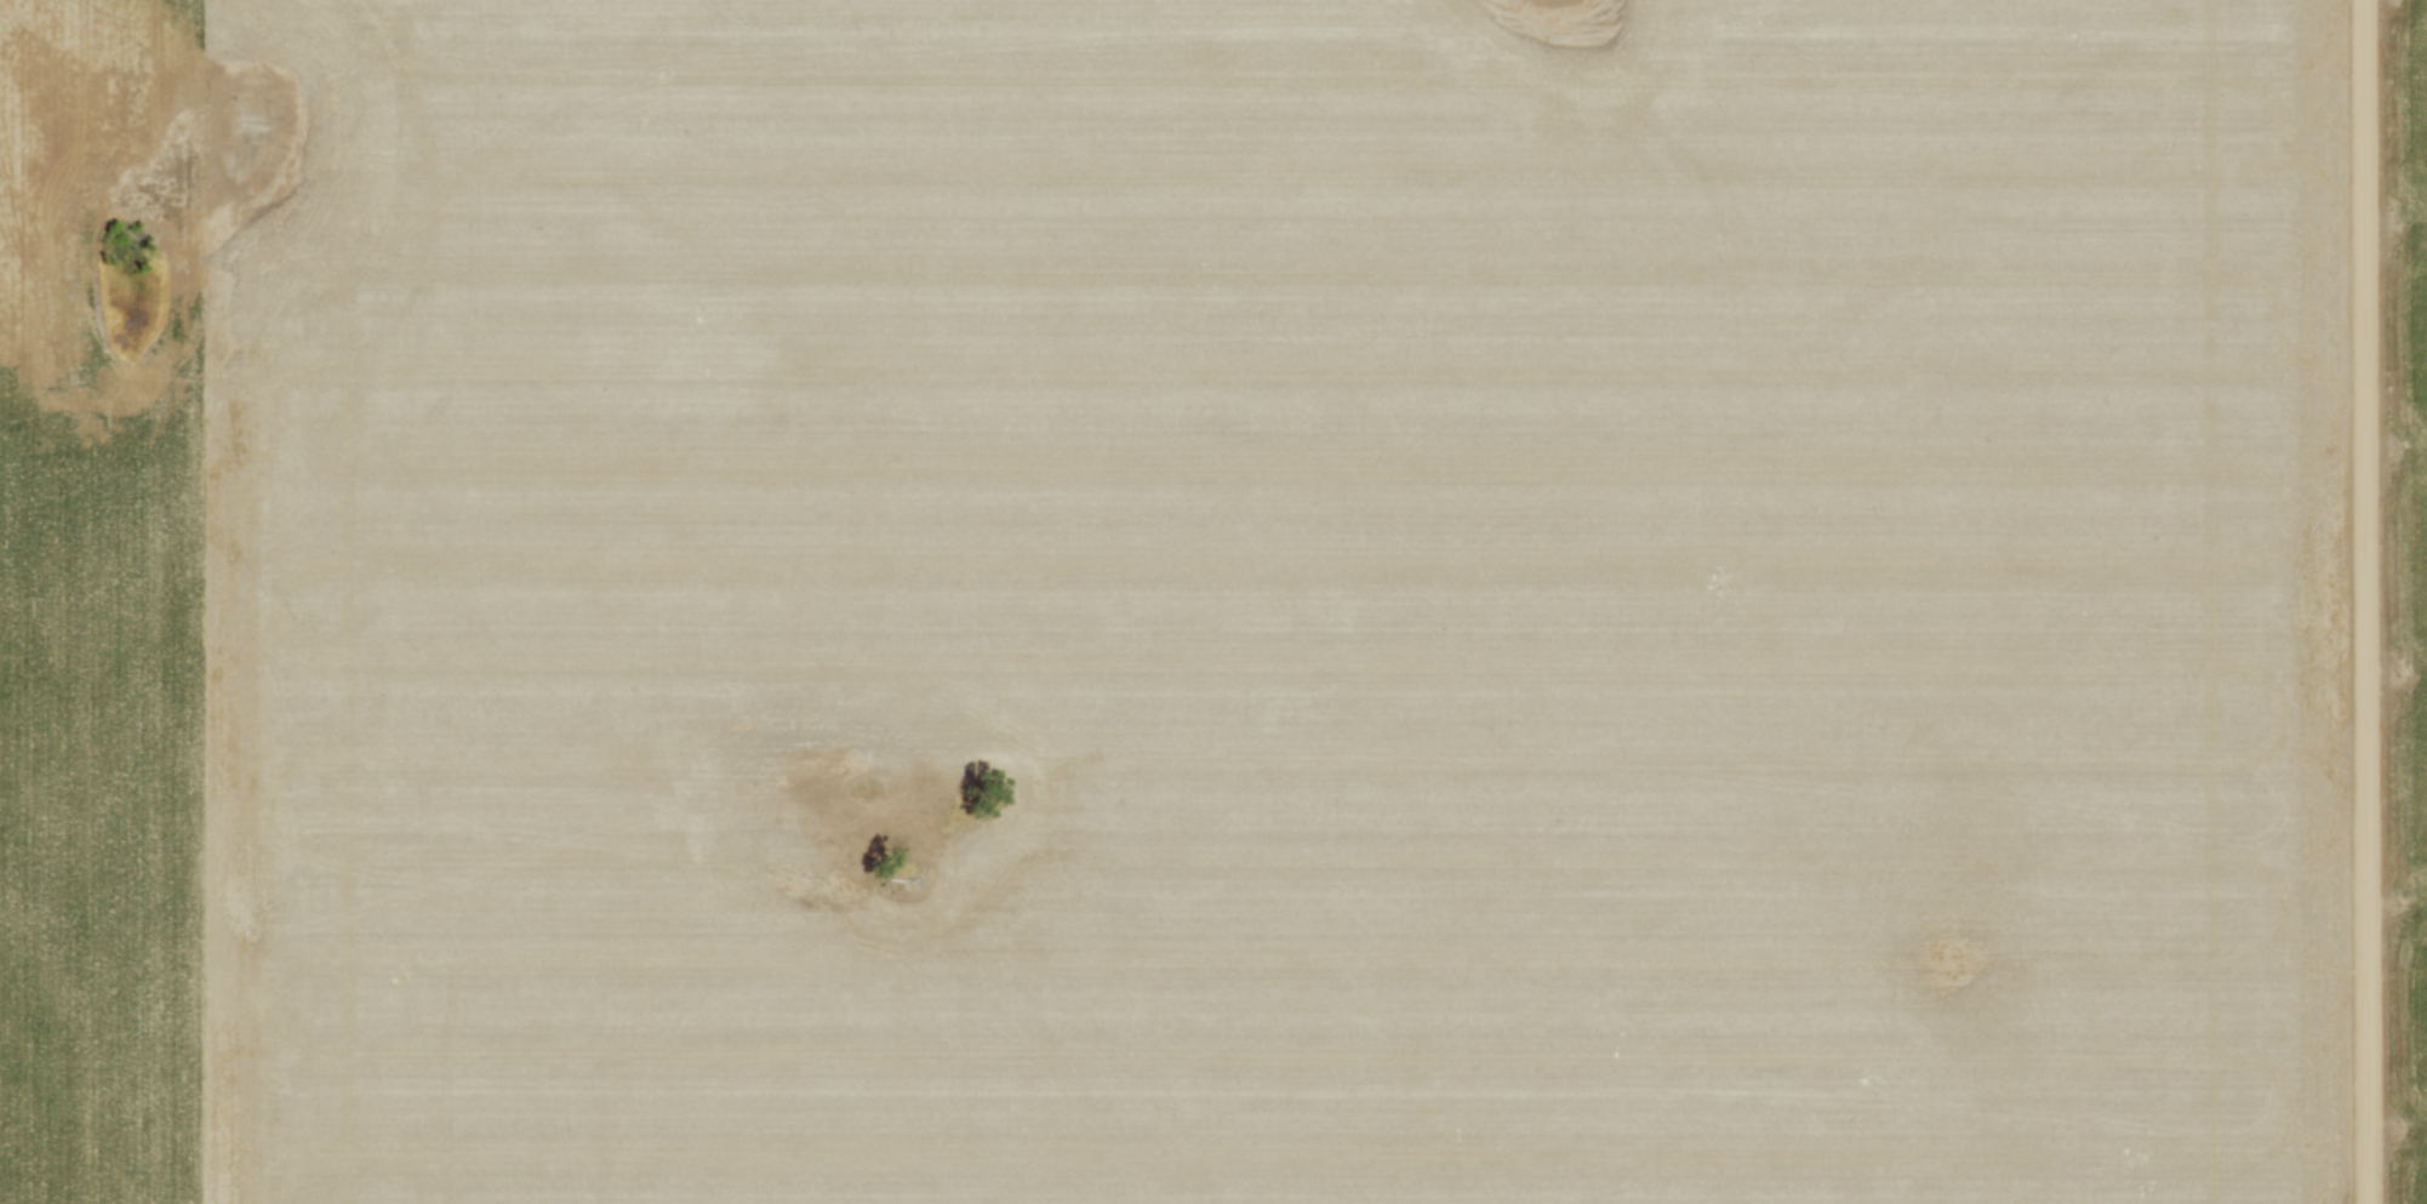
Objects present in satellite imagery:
crop: (2406, 589)
crop: (1172, 601)
road: (2365, 601)

